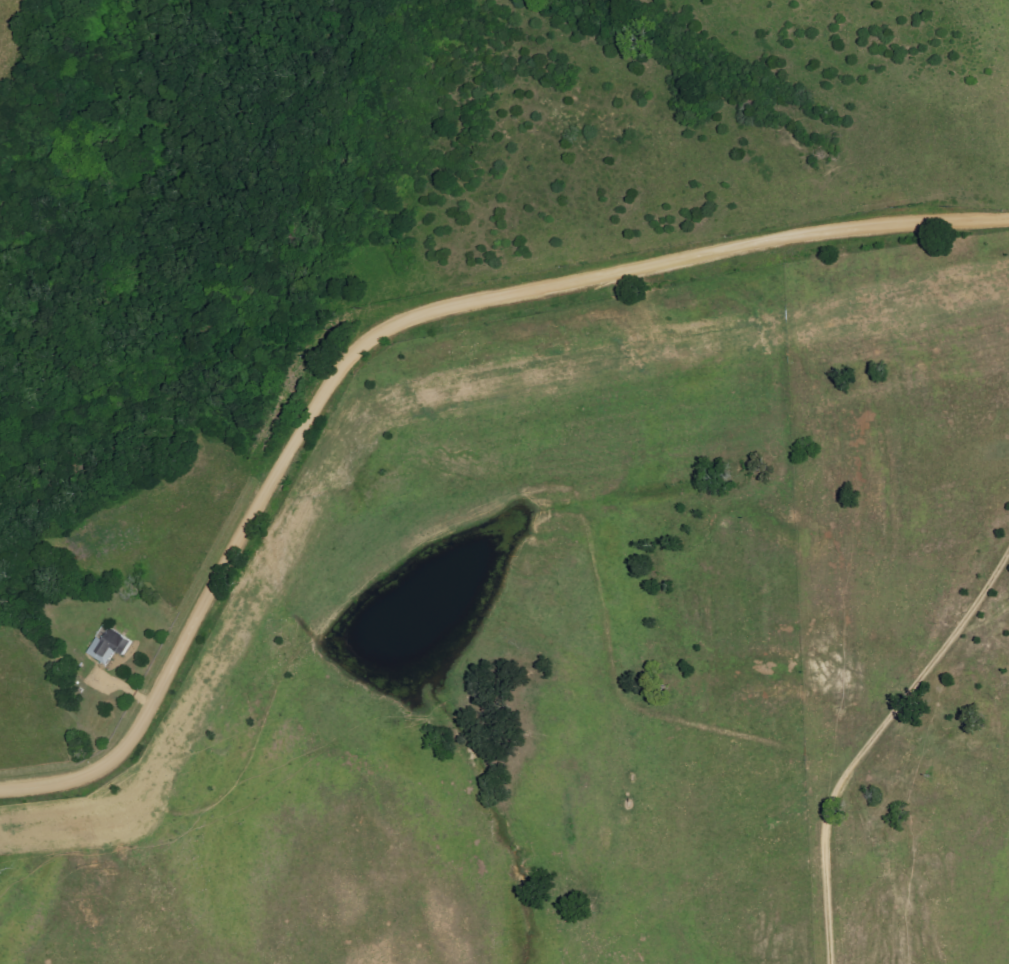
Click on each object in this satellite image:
road: (388, 331)
road: (871, 743)

